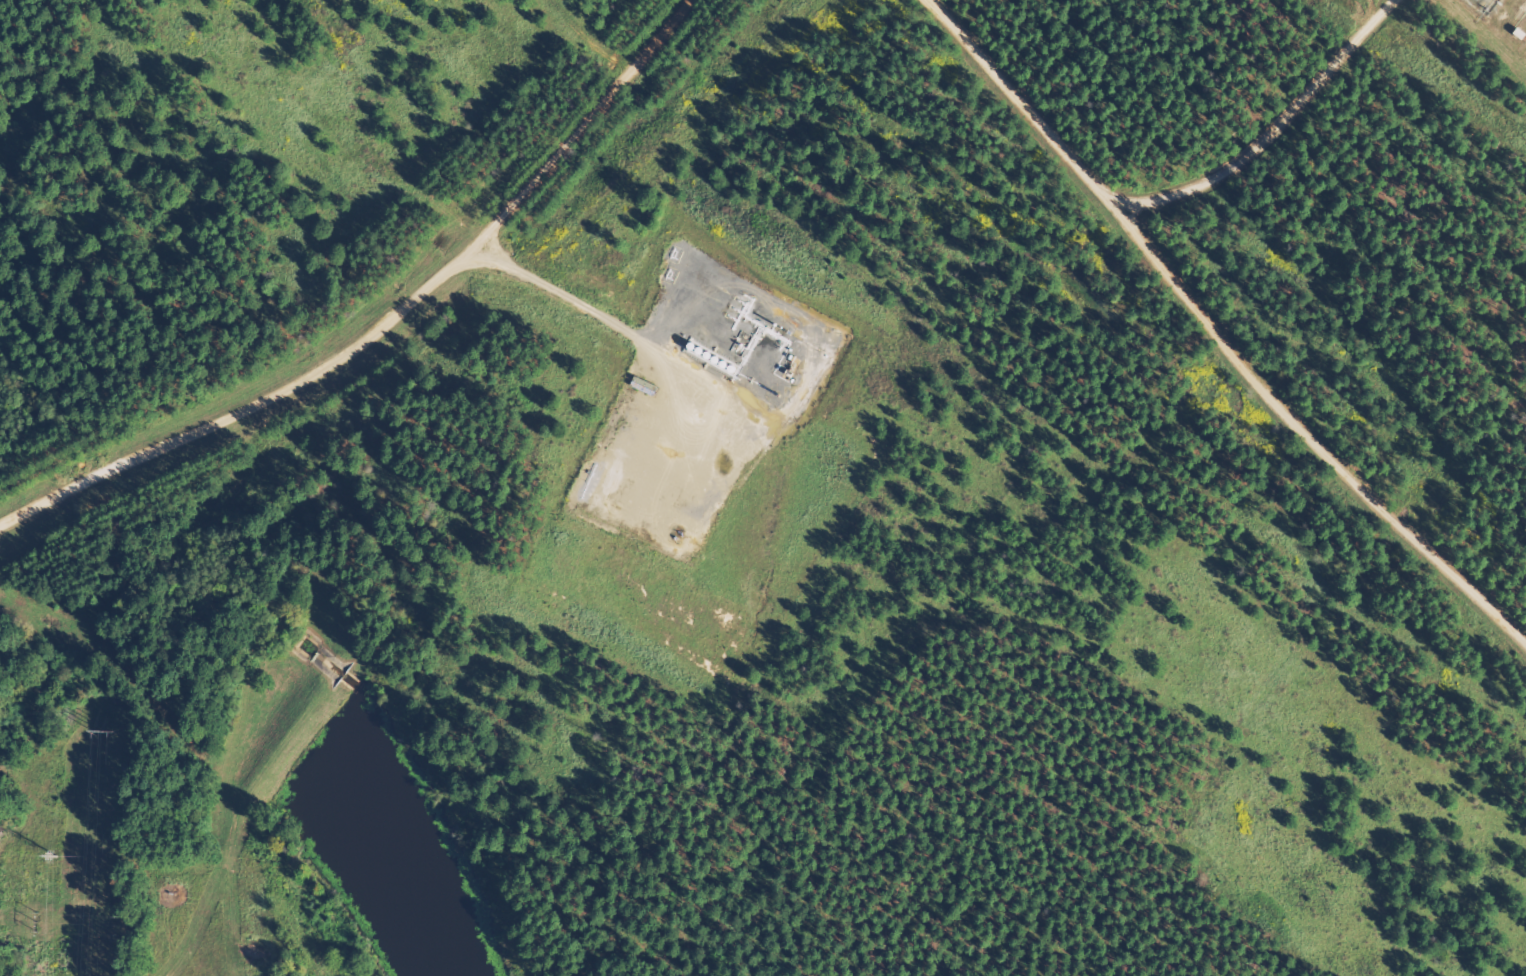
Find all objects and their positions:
road: (519, 196)
road: (1197, 309)
building: (751, 351)
road: (250, 404)
power tower: (56, 855)

